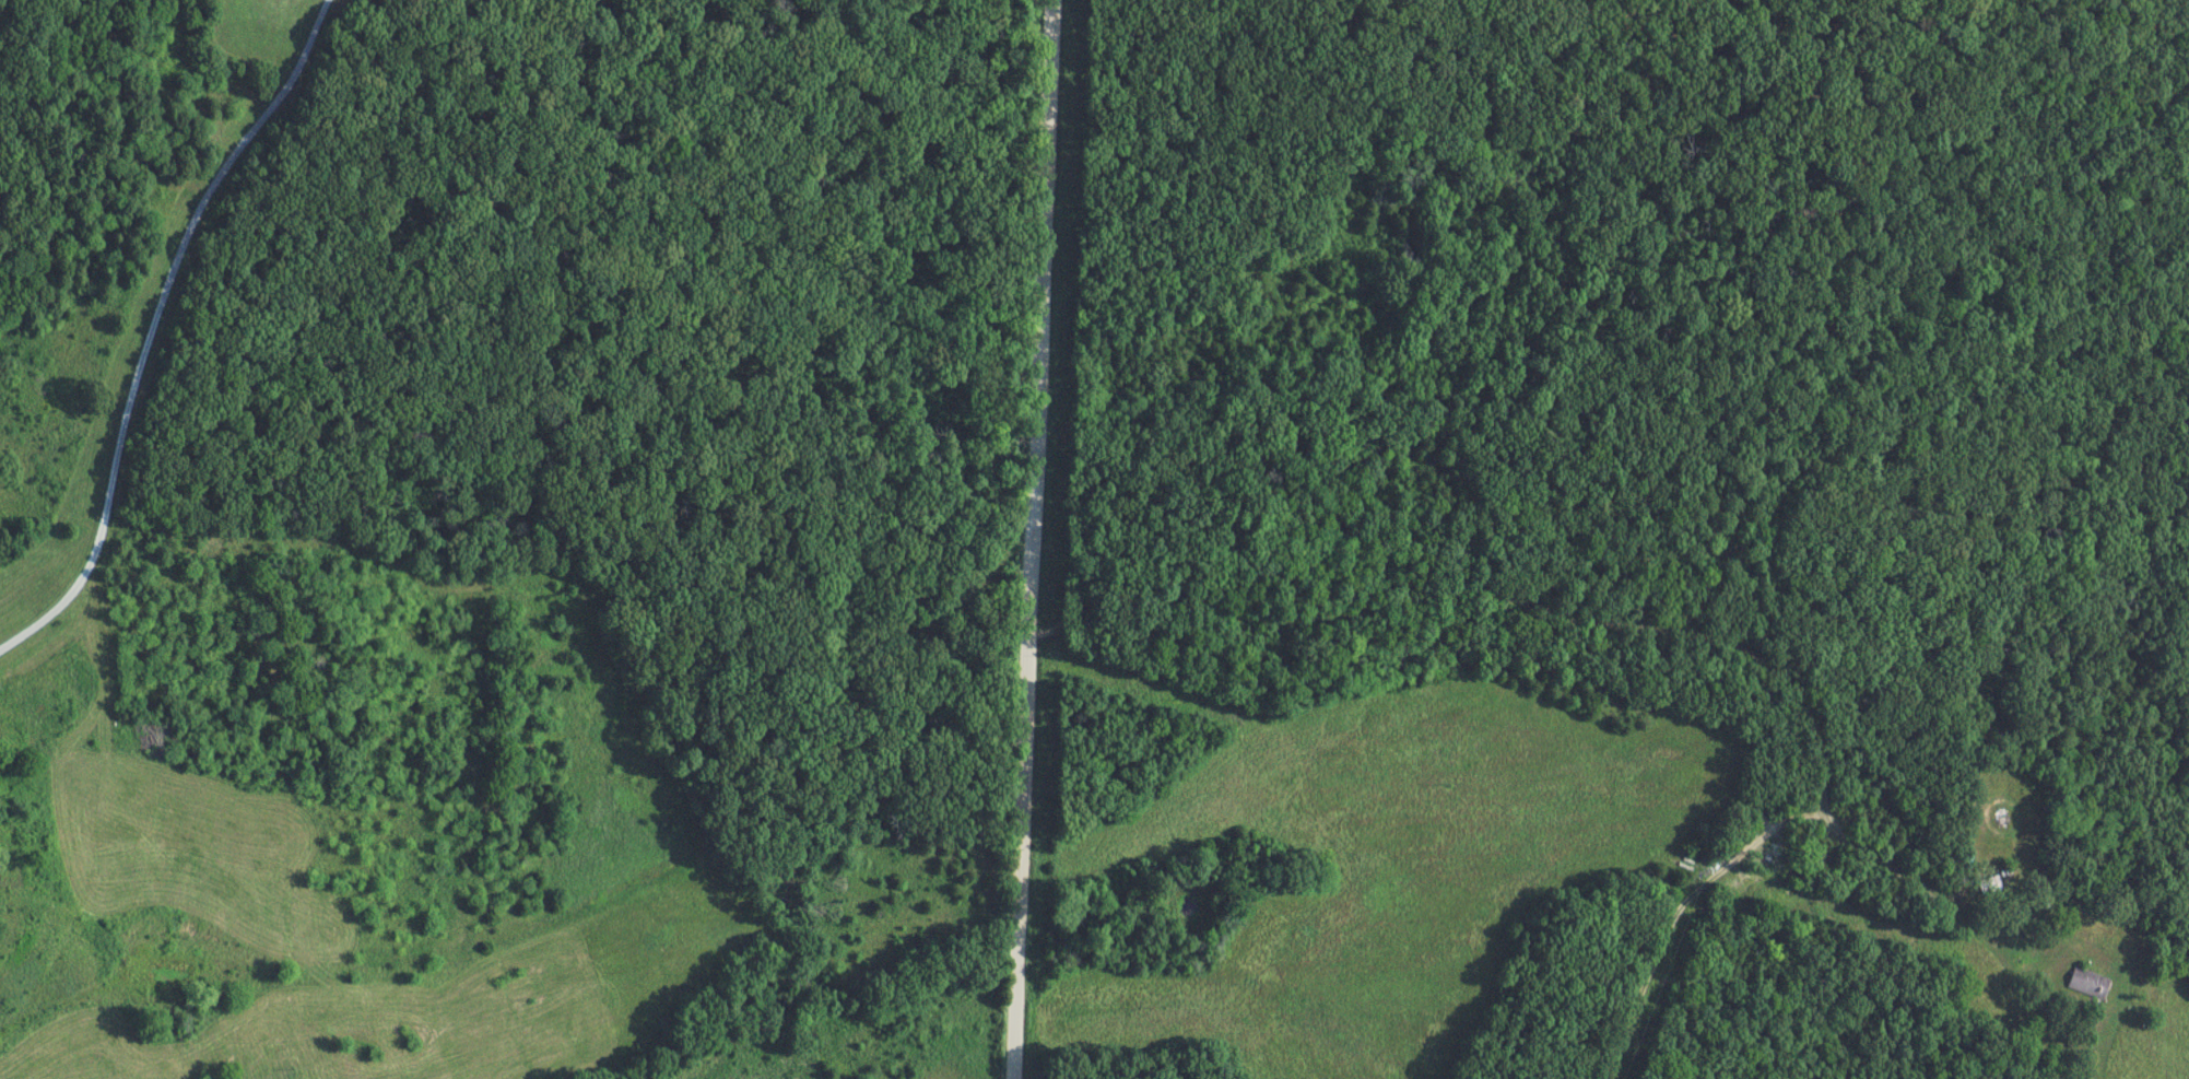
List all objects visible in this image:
road: (153, 326)
road: (1033, 539)
road: (1668, 630)
building: (1990, 884)
building: (2088, 983)

